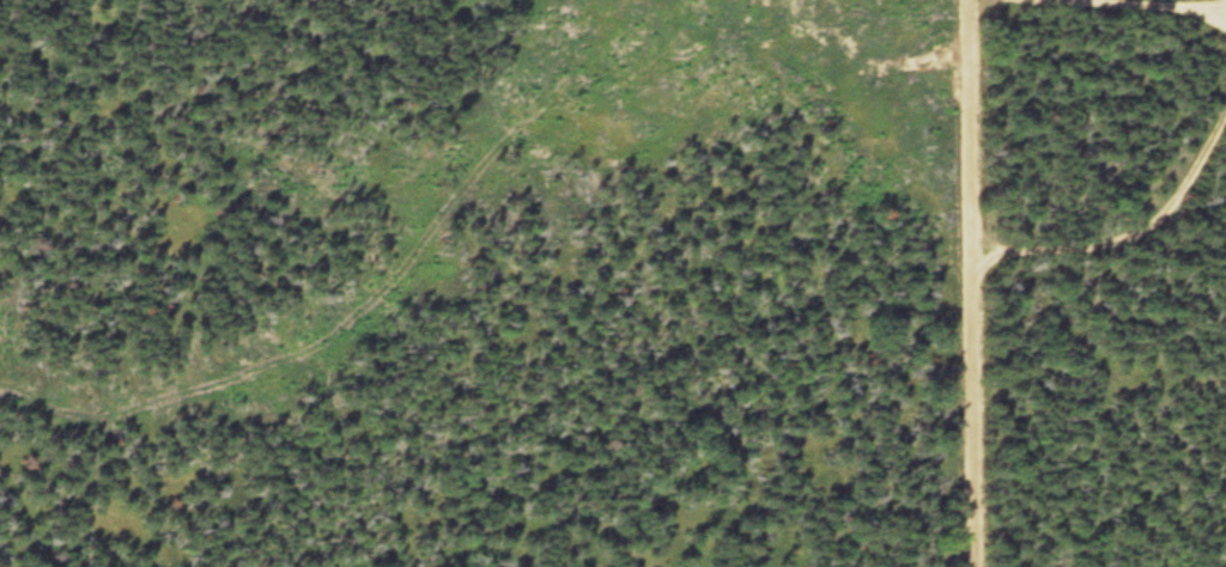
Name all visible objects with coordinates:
road: (977, 0)
road: (1214, 7)
road: (1131, 228)
road: (978, 283)

